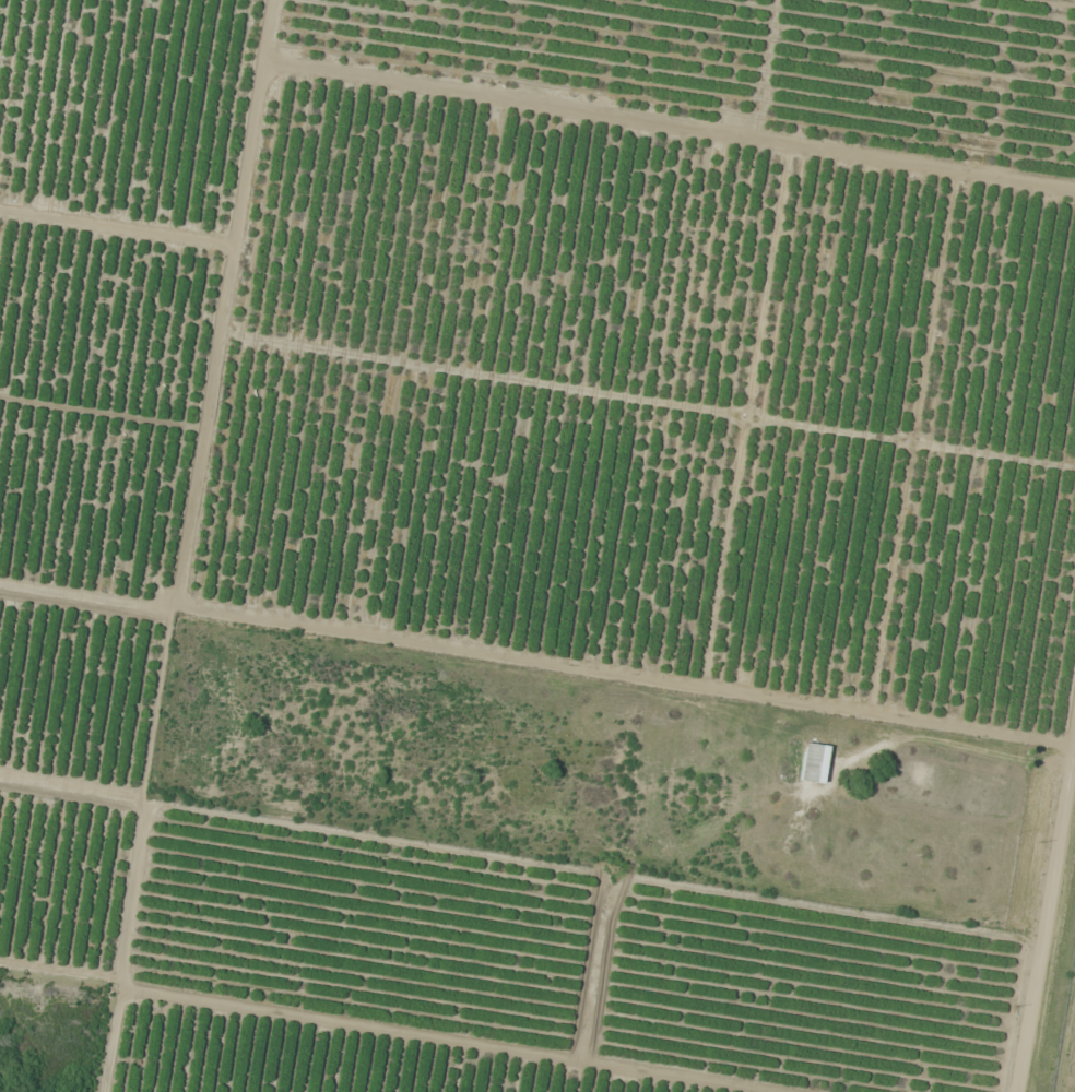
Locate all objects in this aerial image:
building: (812, 762)
building: (922, 769)
road: (1048, 923)

